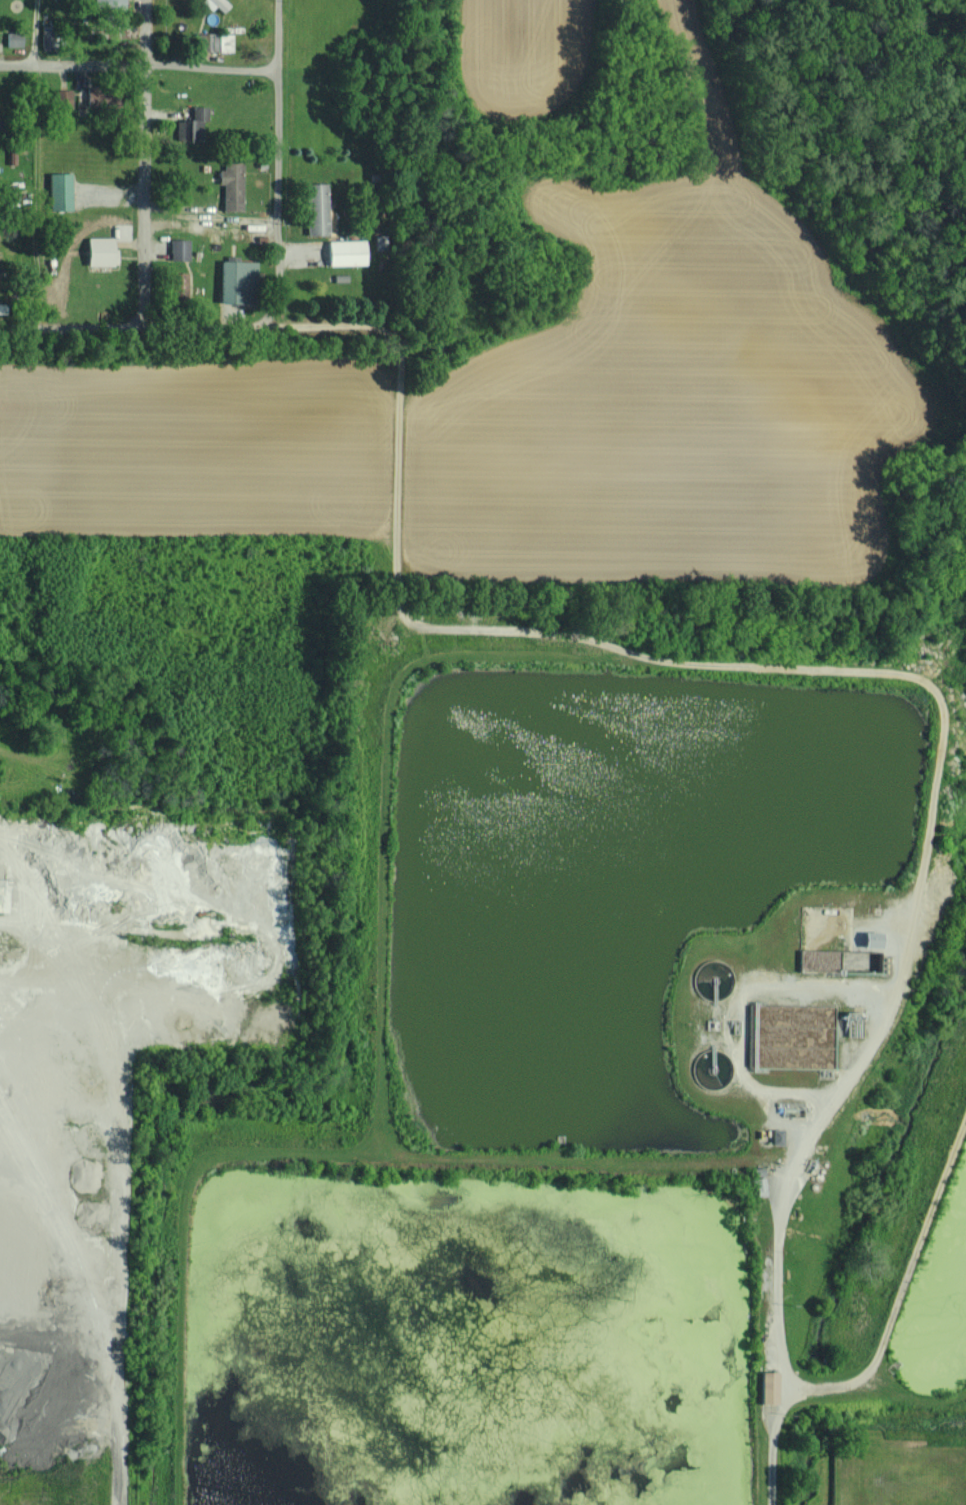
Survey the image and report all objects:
building: (106, 4)
building: (215, 4)
building: (12, 39)
building: (211, 42)
road: (138, 65)
building: (61, 99)
building: (190, 126)
road: (276, 158)
road: (34, 163)
road: (147, 165)
building: (230, 185)
building: (58, 191)
building: (315, 209)
building: (178, 249)
building: (97, 251)
building: (344, 252)
building: (234, 282)
building: (177, 284)
road: (137, 327)
road: (829, 670)
wastewater plant: (599, 1076)
quarry: (118, 1094)
road: (118, 1183)
road: (883, 1334)
building: (767, 1387)

